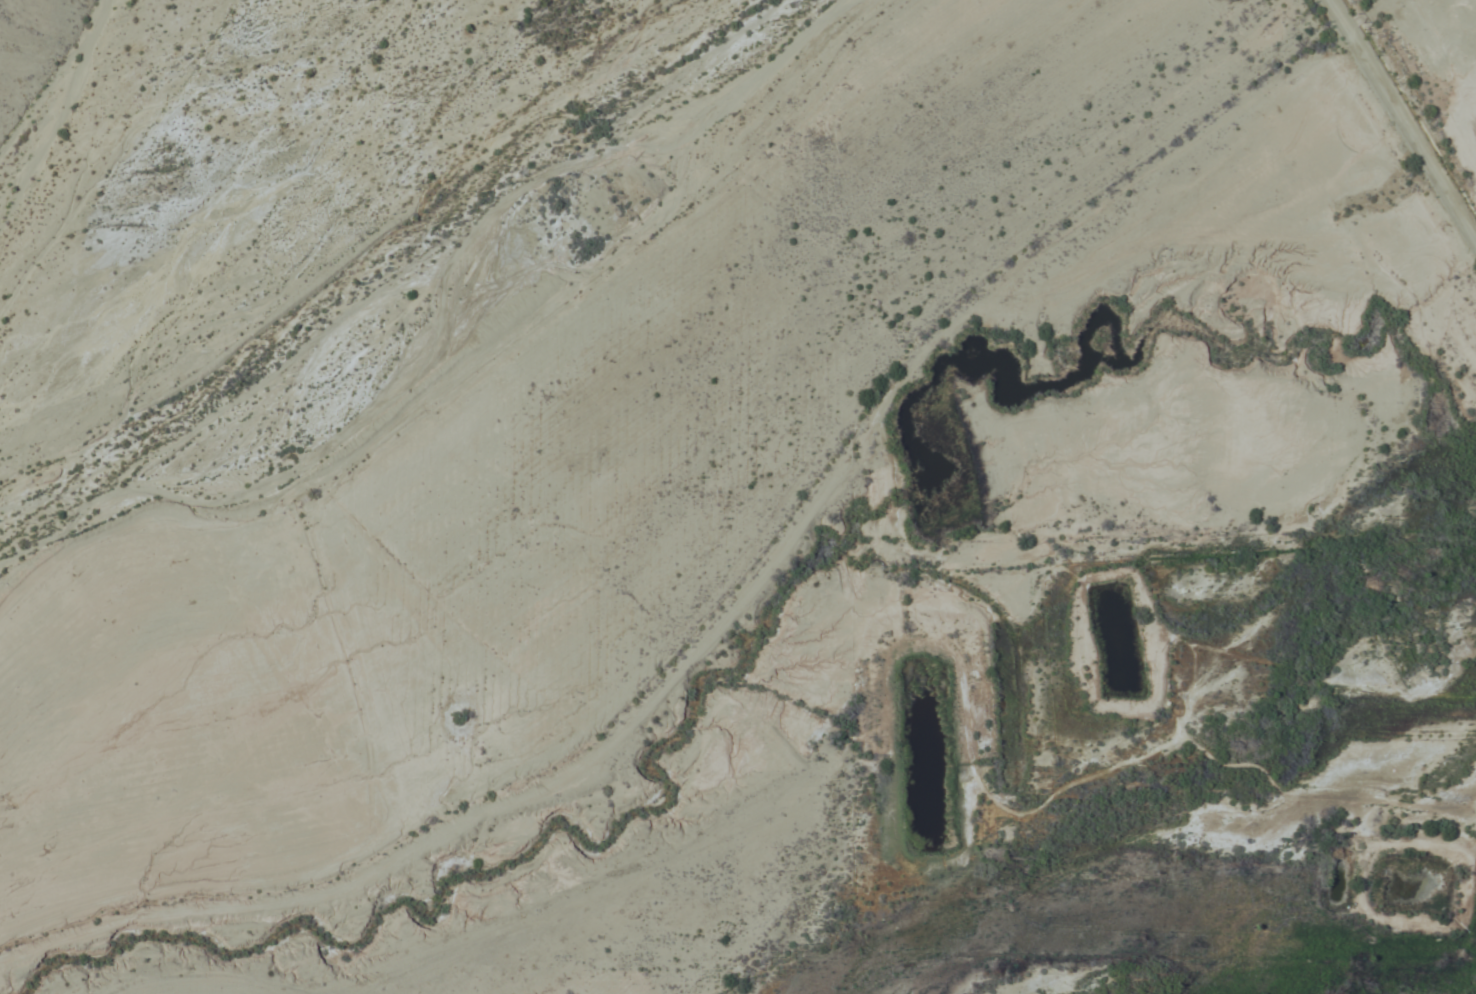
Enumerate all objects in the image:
road: (1398, 169)

